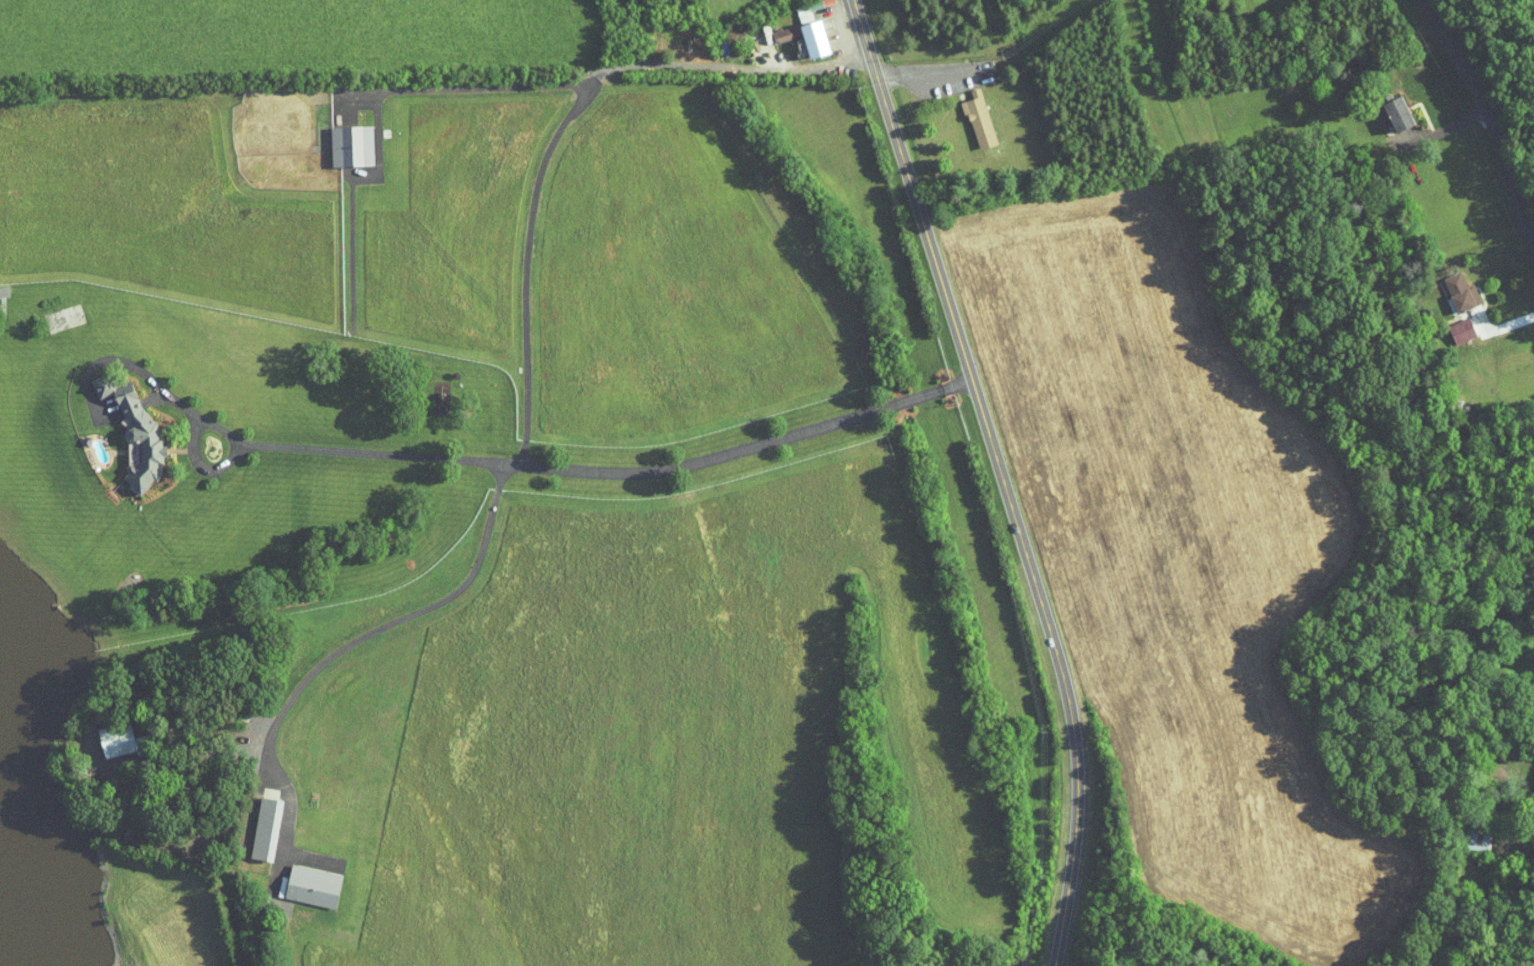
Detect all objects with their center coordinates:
road: (835, 19)
building: (802, 25)
building: (774, 27)
road: (919, 77)
building: (1388, 106)
building: (969, 113)
road: (1452, 115)
road: (1491, 116)
building: (341, 138)
road: (546, 155)
building: (1450, 285)
building: (1452, 324)
road: (1513, 328)
building: (124, 426)
road: (597, 473)
road: (1002, 478)
road: (390, 622)
building: (105, 733)
building: (255, 822)
building: (1467, 834)
building: (302, 880)

